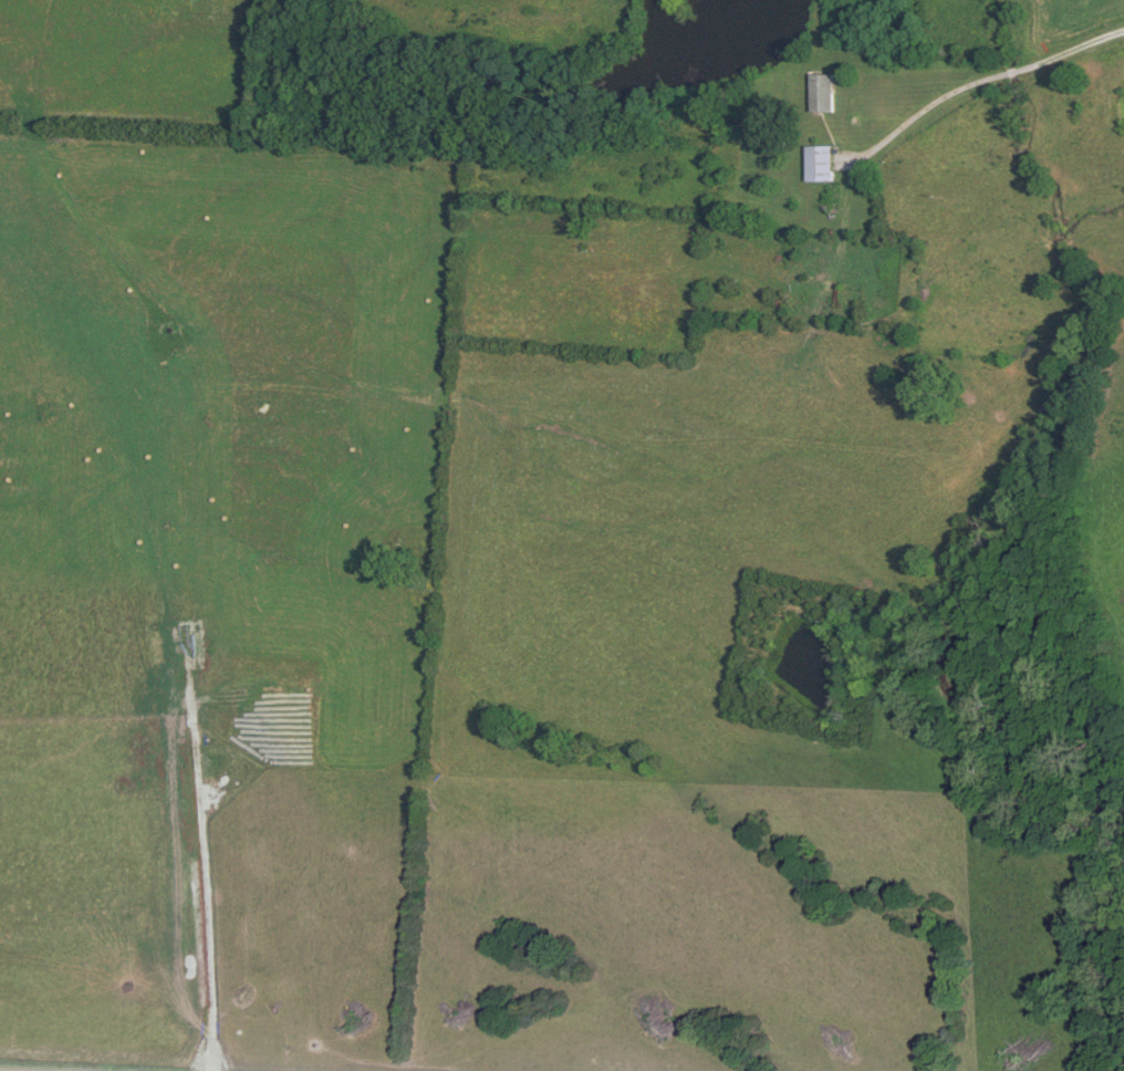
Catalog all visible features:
road: (983, 83)
building: (820, 94)
building: (816, 165)

